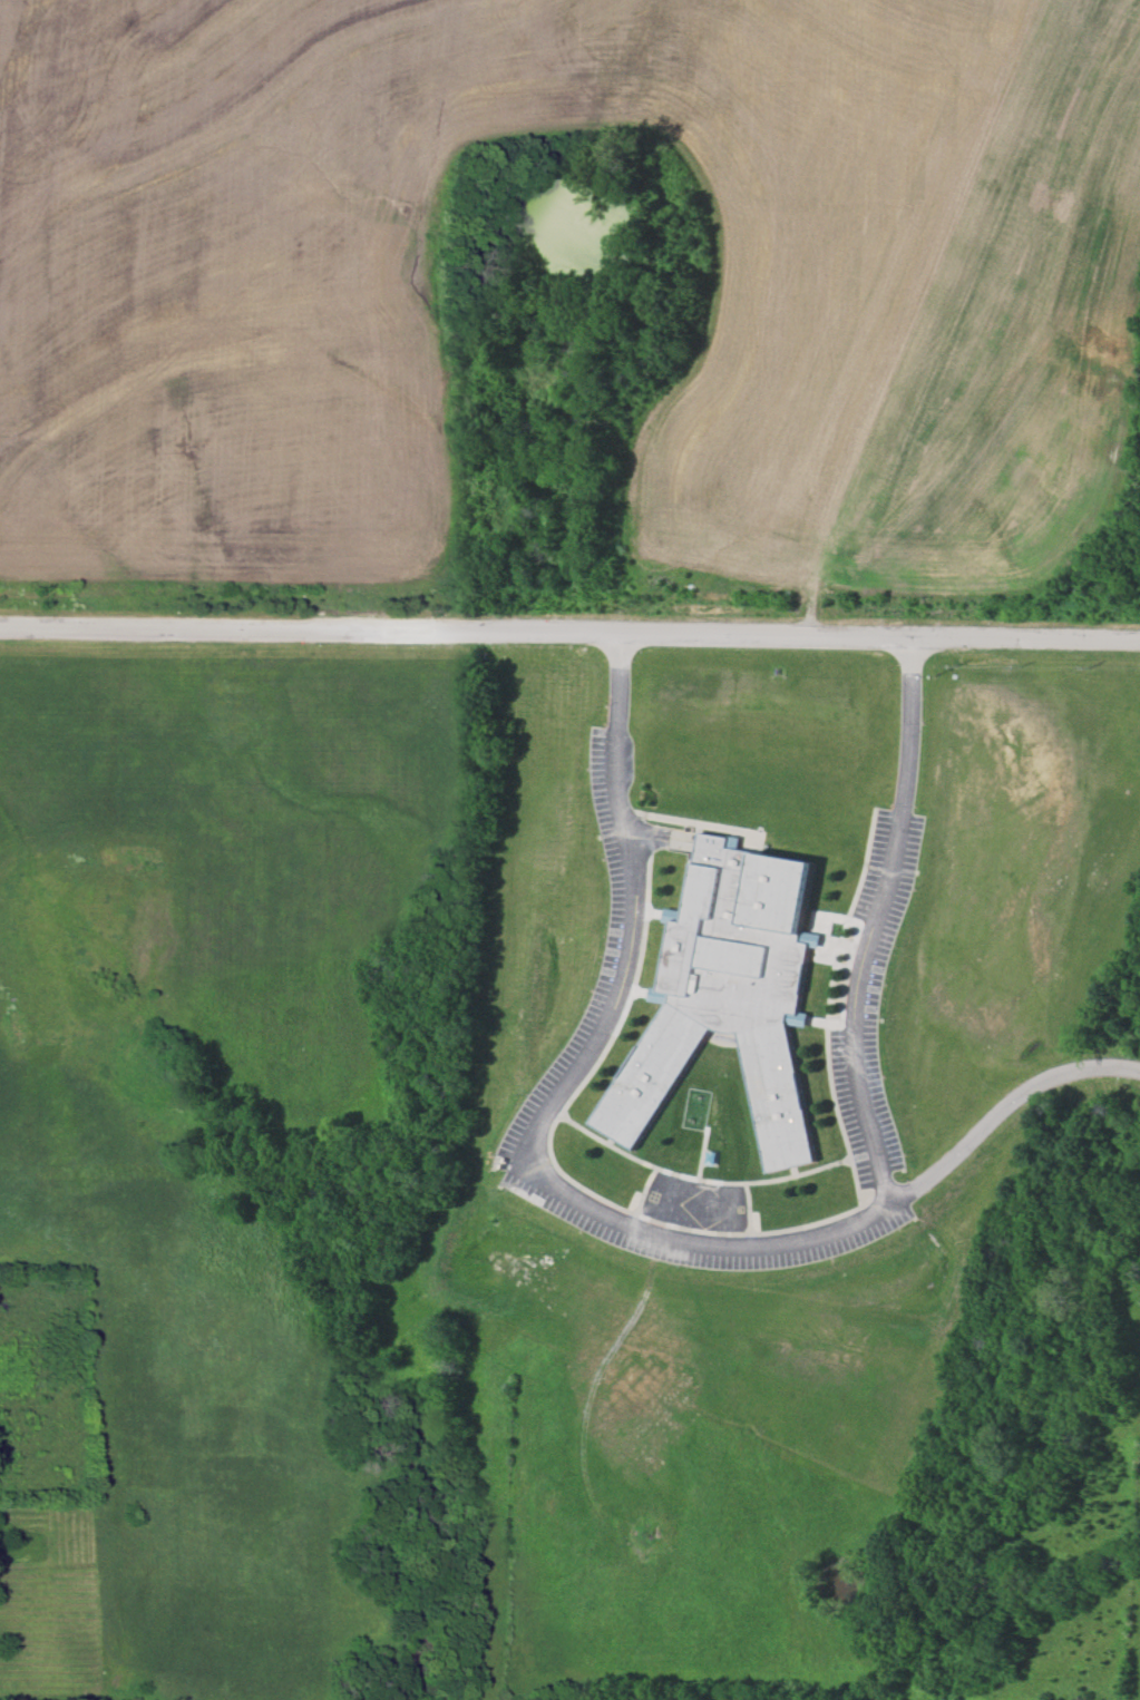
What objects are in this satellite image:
crop: (918, 333)
road: (569, 632)
building: (731, 994)
road: (1003, 1106)
road: (717, 1241)
crop: (51, 1605)

